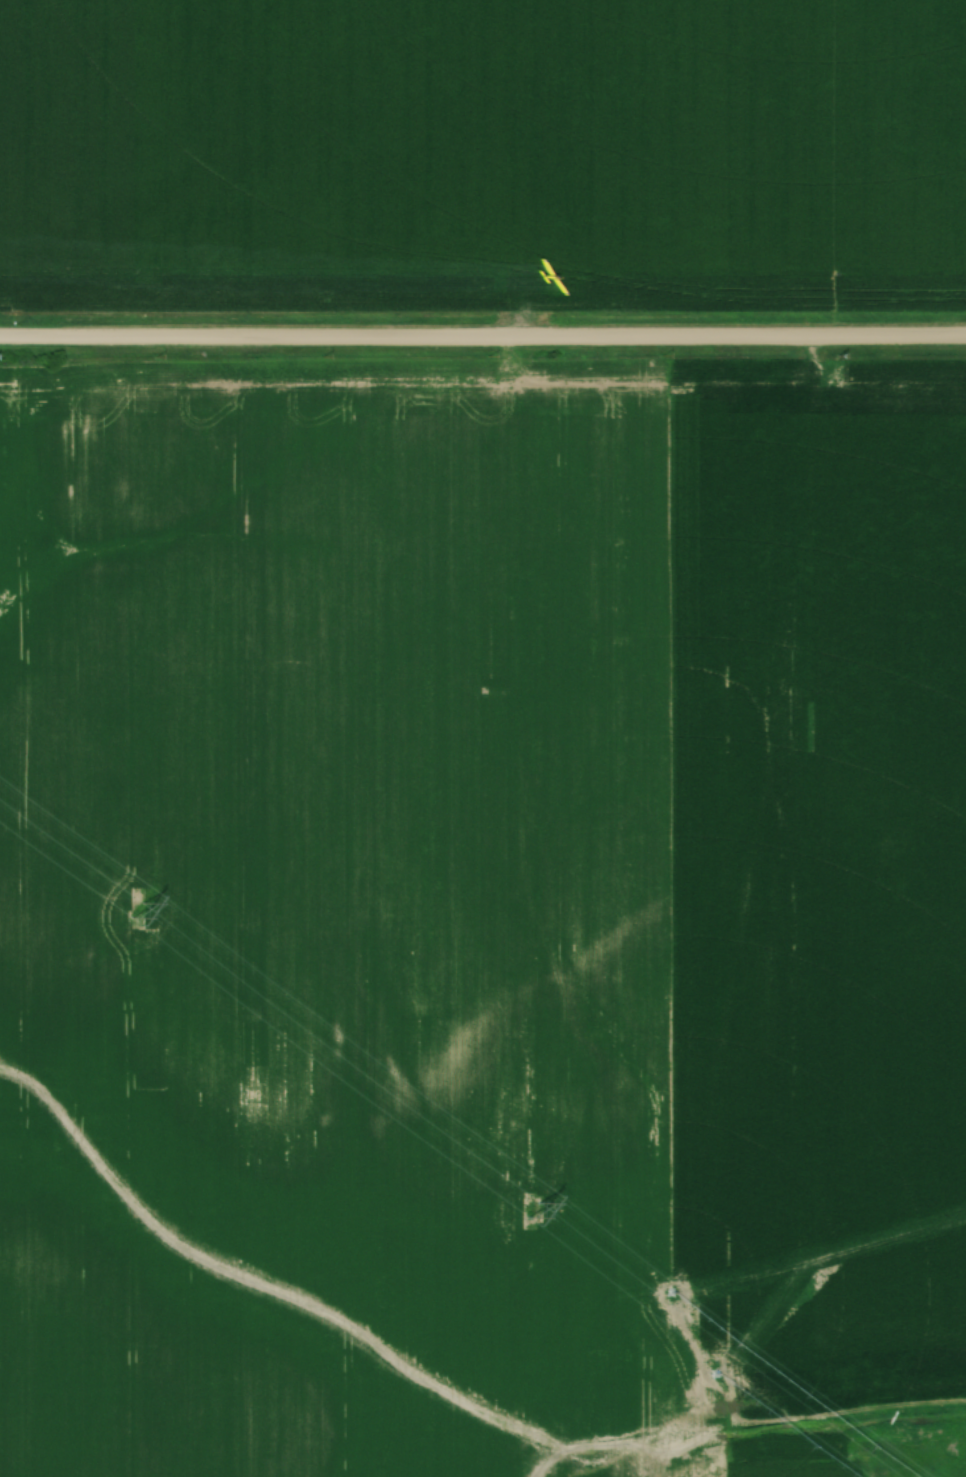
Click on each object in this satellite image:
road: (483, 339)
power tower: (137, 912)
power tower: (536, 1213)

